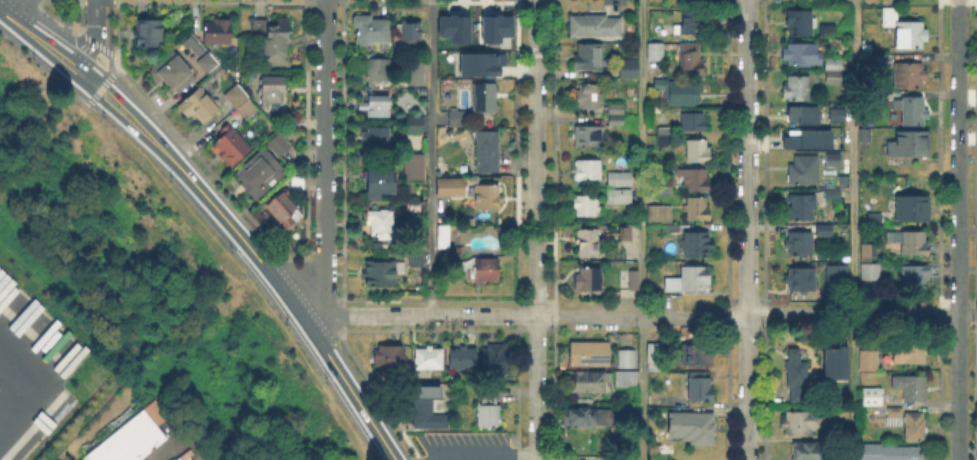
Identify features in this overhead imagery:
road: (80, 0)
road: (108, 0)
road: (94, 1)
road: (112, 1)
road: (34, 2)
road: (6, 3)
road: (20, 10)
park: (65, 12)
road: (94, 15)
road: (49, 17)
building: (890, 17)
building: (800, 23)
building: (689, 24)
building: (452, 27)
building: (474, 27)
building: (594, 27)
building: (495, 29)
building: (370, 30)
building: (828, 32)
building: (149, 33)
building: (217, 33)
road: (40, 34)
road: (52, 34)
building: (409, 36)
building: (911, 36)
road: (108, 38)
building: (275, 42)
road: (96, 44)
building: (190, 45)
road: (87, 47)
road: (81, 54)
building: (802, 55)
road: (45, 56)
building: (691, 57)
building: (588, 58)
building: (884, 61)
building: (208, 63)
building: (477, 63)
building: (833, 65)
building: (628, 69)
building: (377, 71)
building: (416, 72)
road: (79, 73)
building: (173, 74)
building: (910, 76)
building: (833, 78)
road: (101, 84)
road: (108, 88)
building: (797, 89)
building: (272, 91)
building: (679, 93)
road: (81, 94)
building: (588, 95)
building: (485, 99)
building: (241, 103)
building: (200, 106)
building: (377, 107)
road: (111, 109)
building: (617, 109)
building: (911, 110)
building: (802, 116)
building: (839, 116)
building: (457, 120)
building: (616, 121)
building: (693, 123)
building: (415, 126)
building: (865, 136)
building: (377, 137)
building: (587, 138)
building: (665, 138)
building: (804, 138)
road: (185, 143)
building: (279, 144)
building: (909, 145)
building: (230, 147)
building: (488, 152)
building: (698, 152)
road: (184, 156)
road: (432, 158)
road: (325, 159)
building: (833, 161)
building: (414, 167)
building: (587, 169)
building: (803, 171)
building: (259, 172)
building: (620, 180)
building: (841, 180)
building: (696, 181)
building: (297, 183)
building: (380, 185)
building: (451, 188)
building: (665, 190)
building: (833, 193)
building: (488, 195)
building: (617, 197)
building: (586, 205)
building: (866, 206)
building: (282, 207)
building: (413, 207)
building: (802, 208)
building: (697, 209)
building: (914, 209)
building: (660, 216)
building: (382, 224)
road: (536, 230)
road: (642, 230)
road: (748, 230)
road: (854, 230)
road: (959, 230)
building: (629, 235)
building: (443, 237)
building: (806, 240)
building: (587, 242)
building: (914, 243)
building: (695, 245)
road: (323, 251)
building: (863, 251)
building: (451, 252)
building: (869, 252)
building: (416, 260)
building: (481, 269)
road: (307, 272)
road: (342, 272)
building: (381, 273)
building: (870, 273)
building: (838, 276)
building: (913, 277)
building: (632, 279)
road: (275, 280)
building: (586, 280)
building: (804, 280)
building: (690, 281)
park: (137, 285)
road: (310, 294)
road: (302, 300)
road: (417, 315)
road: (341, 316)
road: (748, 316)
road: (968, 317)
road: (341, 347)
building: (909, 353)
building: (590, 355)
building: (695, 356)
building: (655, 357)
building: (389, 358)
building: (429, 359)
building: (463, 359)
building: (627, 359)
building: (494, 360)
building: (833, 362)
building: (869, 362)
building: (796, 378)
road: (38, 379)
building: (627, 380)
building: (591, 382)
building: (911, 388)
building: (700, 390)
road: (378, 397)
building: (872, 399)
road: (371, 402)
building: (423, 406)
building: (487, 412)
building: (588, 418)
building: (894, 418)
building: (797, 424)
building: (693, 427)
building: (915, 427)
building: (134, 438)
building: (664, 450)
building: (808, 452)
building: (889, 453)
road: (480, 454)
road: (416, 458)
building: (625, 459)

